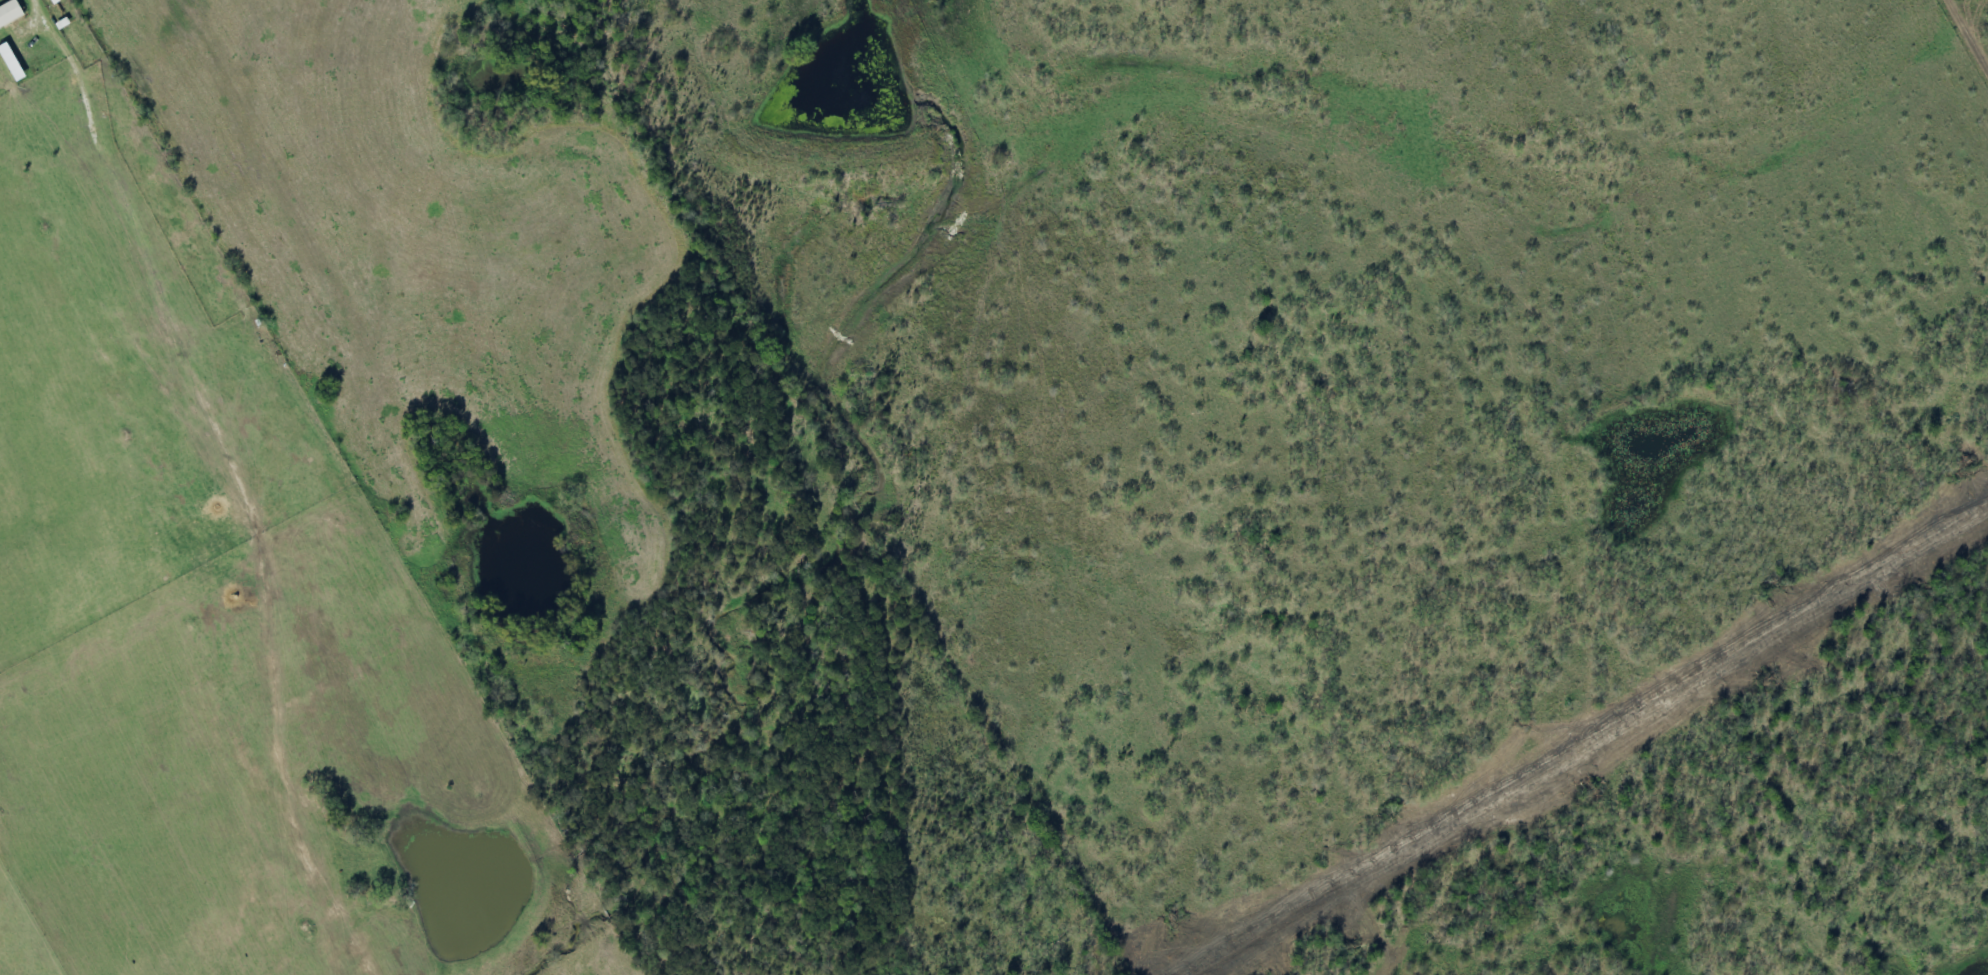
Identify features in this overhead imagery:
building: (10, 14)
road: (105, 124)

